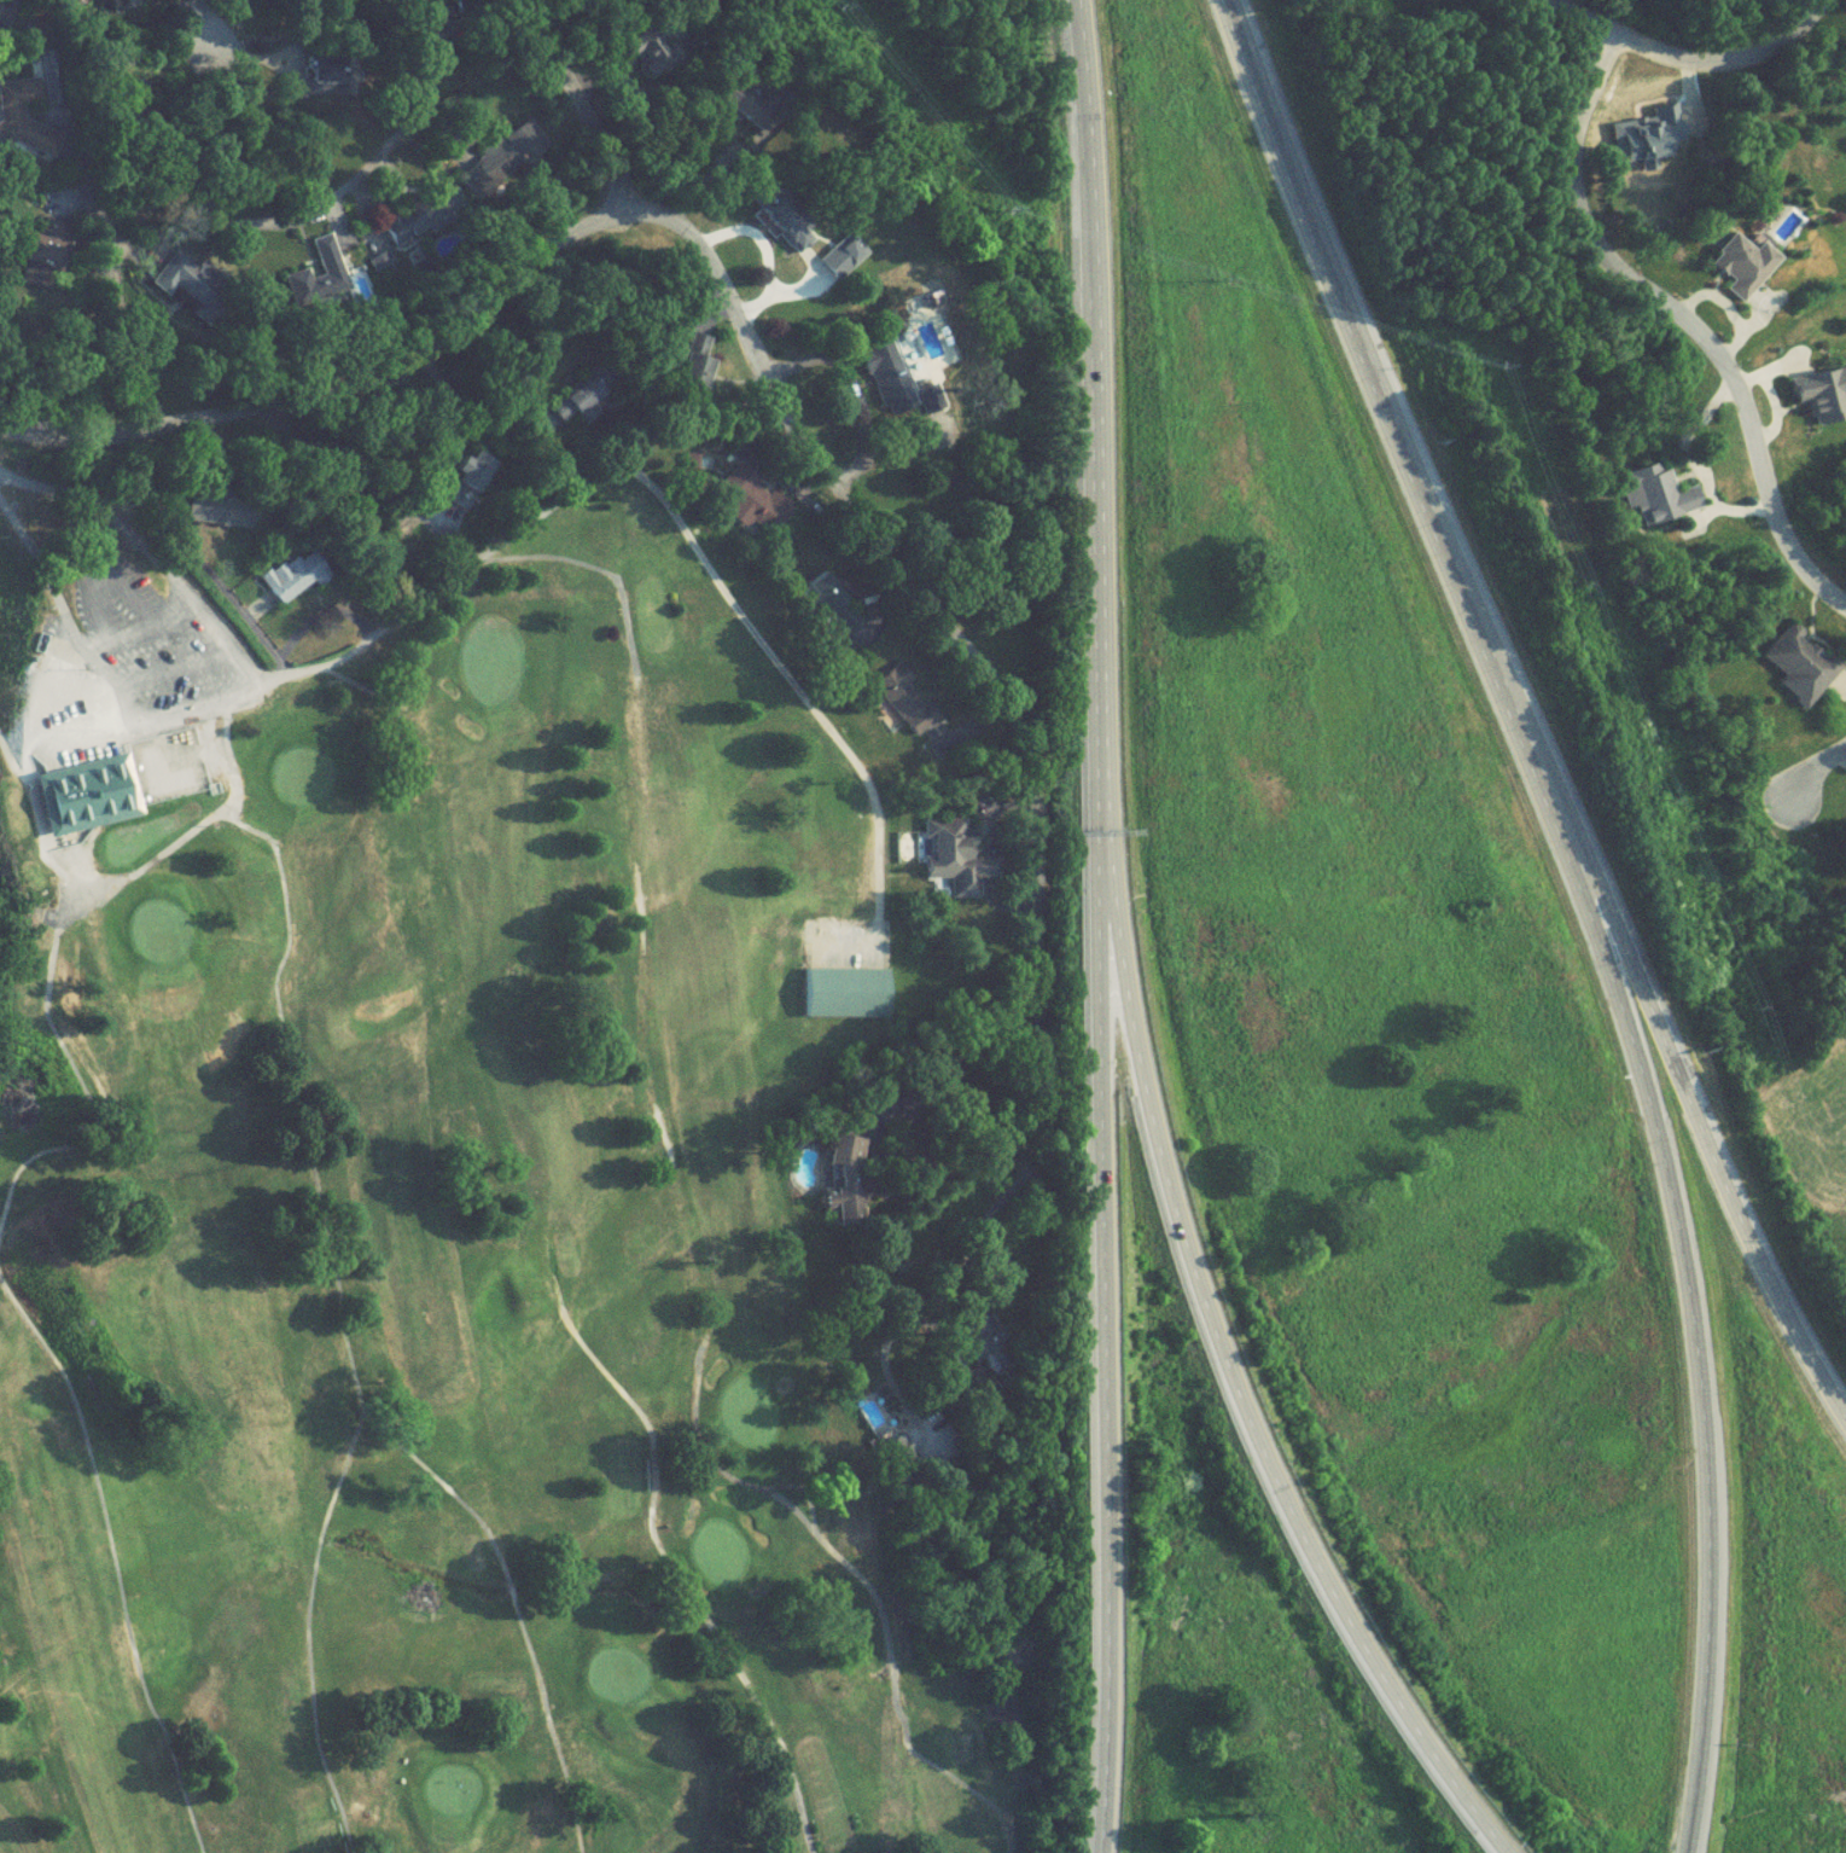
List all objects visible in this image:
road: (1579, 21)
road: (198, 25)
road: (1728, 68)
road: (577, 104)
building: (18, 106)
building: (738, 109)
building: (511, 157)
building: (419, 222)
road: (158, 248)
building: (1742, 272)
road: (1683, 327)
building: (569, 412)
road: (793, 424)
road: (1402, 445)
building: (473, 476)
road: (1097, 482)
building: (1652, 501)
building: (751, 509)
road: (605, 573)
building: (290, 583)
building: (823, 615)
road: (372, 633)
parking lot: (124, 663)
road: (99, 664)
building: (1795, 672)
road: (790, 685)
building: (898, 697)
road: (163, 728)
building: (57, 738)
road: (636, 751)
road: (4, 759)
building: (209, 765)
road: (1813, 776)
building: (85, 798)
building: (941, 842)
building: (24, 895)
park: (158, 935)
building: (844, 994)
road: (641, 1009)
road: (956, 1067)
road: (70, 1069)
park: (604, 1085)
road: (1708, 1160)
building: (844, 1162)
road: (314, 1179)
road: (880, 1358)
road: (1695, 1364)
road: (698, 1382)
road: (1108, 1408)
park: (749, 1419)
road: (1256, 1430)
building: (896, 1462)
road: (811, 1504)
road: (653, 1543)
road: (110, 1562)
road: (305, 1619)
road: (897, 1689)
park: (447, 1800)
road: (997, 1822)

